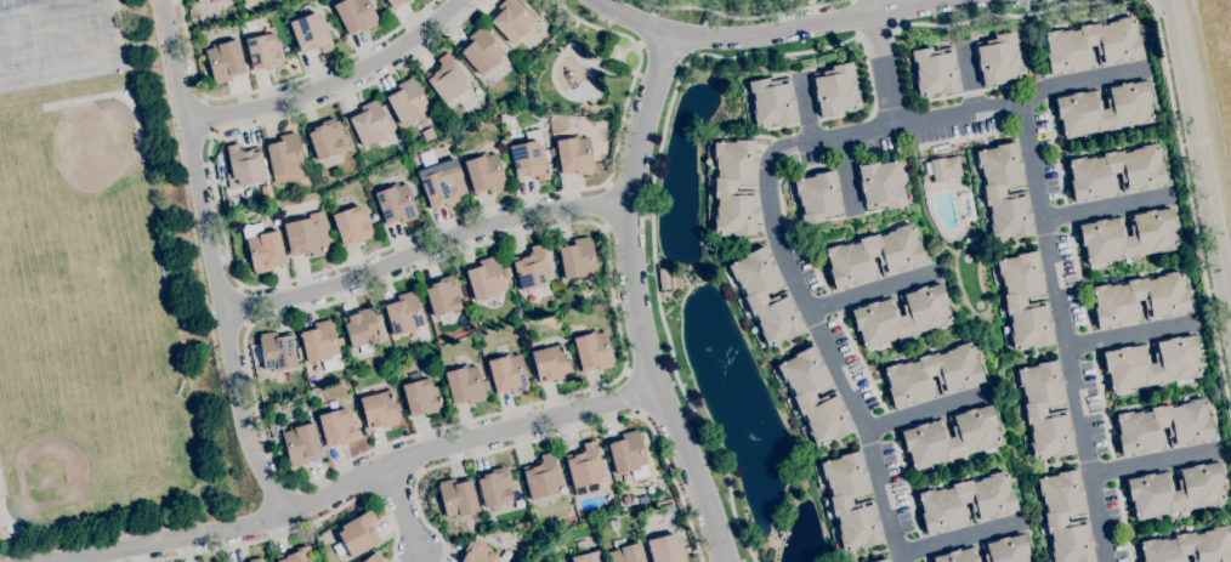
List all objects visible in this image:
building: (407, 0)
building: (208, 1)
building: (248, 1)
building: (395, 2)
building: (356, 15)
road: (1004, 15)
road: (737, 16)
building: (511, 19)
road: (648, 25)
road: (770, 30)
road: (881, 32)
building: (311, 33)
building: (1091, 45)
road: (668, 49)
building: (481, 50)
building: (263, 52)
building: (998, 58)
building: (225, 59)
road: (881, 63)
building: (934, 72)
road: (969, 75)
building: (447, 78)
road: (1079, 81)
road: (278, 84)
road: (335, 84)
building: (835, 90)
building: (407, 101)
building: (771, 102)
road: (805, 108)
building: (1104, 109)
building: (505, 114)
road: (209, 117)
building: (370, 123)
road: (911, 124)
building: (512, 129)
building: (427, 134)
building: (327, 138)
building: (599, 142)
building: (402, 147)
building: (284, 154)
park: (83, 155)
building: (574, 155)
building: (529, 157)
road: (1201, 158)
building: (244, 165)
building: (943, 169)
building: (1116, 172)
building: (484, 174)
building: (881, 185)
building: (439, 188)
building: (724, 188)
building: (1004, 192)
building: (817, 197)
building: (395, 204)
road: (1192, 204)
road: (605, 205)
road: (1104, 208)
building: (352, 225)
road: (653, 229)
building: (1128, 237)
building: (304, 238)
building: (262, 248)
road: (422, 251)
building: (873, 256)
building: (577, 259)
road: (211, 260)
building: (531, 267)
road: (319, 271)
building: (486, 278)
building: (663, 279)
road: (869, 291)
building: (443, 297)
building: (765, 297)
building: (1139, 300)
road: (636, 301)
building: (1025, 301)
road: (244, 305)
park: (80, 310)
building: (404, 313)
building: (901, 316)
building: (362, 329)
road: (1129, 336)
building: (322, 345)
building: (277, 351)
building: (299, 351)
building: (594, 351)
building: (550, 363)
building: (1151, 363)
building: (397, 367)
building: (507, 374)
building: (932, 375)
building: (279, 379)
building: (465, 385)
building: (311, 392)
road: (634, 393)
building: (802, 396)
building: (420, 397)
building: (379, 409)
building: (1045, 410)
road: (924, 413)
building: (291, 420)
building: (1163, 426)
building: (336, 427)
road: (558, 433)
building: (951, 437)
park: (47, 443)
building: (282, 443)
building: (301, 443)
building: (280, 454)
building: (629, 454)
road: (1153, 462)
building: (584, 466)
road: (278, 469)
building: (541, 476)
road: (365, 477)
building: (624, 478)
building: (495, 488)
building: (1175, 490)
building: (456, 498)
building: (626, 499)
building: (642, 500)
building: (851, 501)
building: (966, 503)
road: (405, 507)
building: (1065, 517)
building: (613, 523)
road: (299, 527)
building: (357, 534)
road: (958, 538)
building: (1190, 546)
building: (665, 549)
building: (1006, 550)
building: (477, 552)
building: (625, 552)
building: (295, 556)
building: (958, 556)
building: (373, 557)
building: (588, 557)
building: (255, 560)
building: (357, 561)
building: (607, 561)
building: (881, 561)

